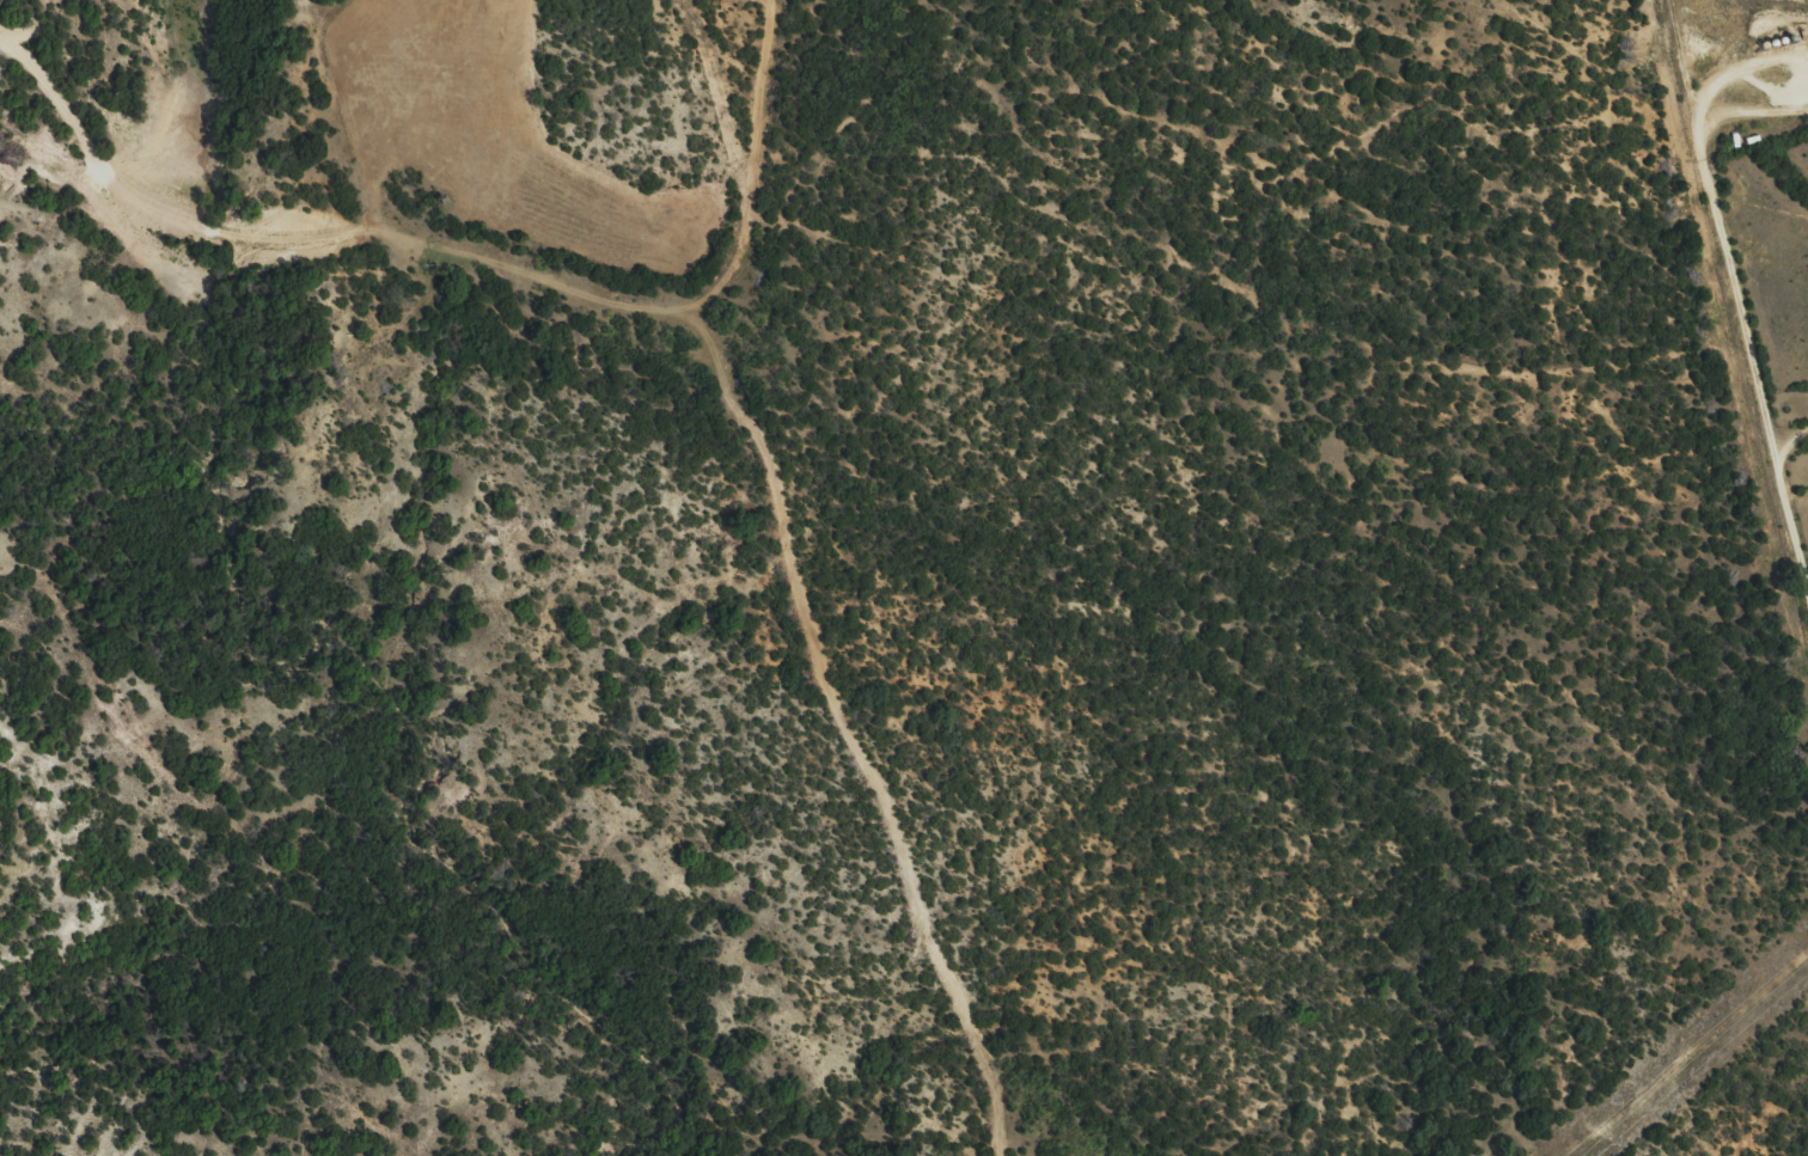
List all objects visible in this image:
road: (1733, 311)
road: (1785, 457)

